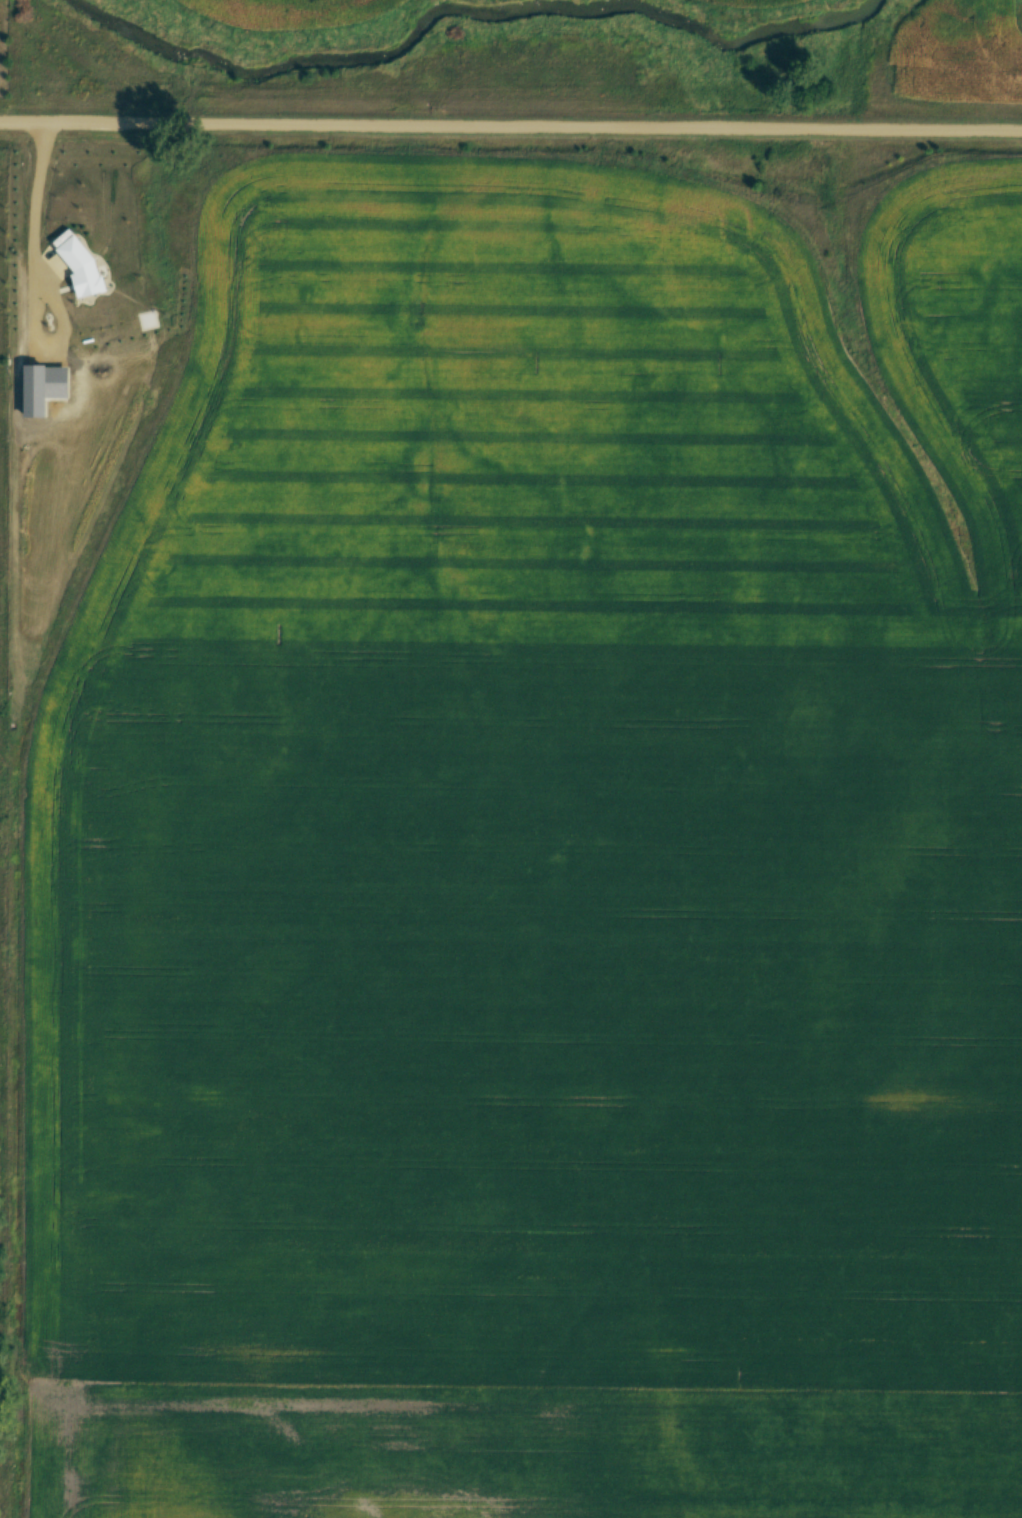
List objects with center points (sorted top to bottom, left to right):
road: (511, 128)
road: (32, 284)

